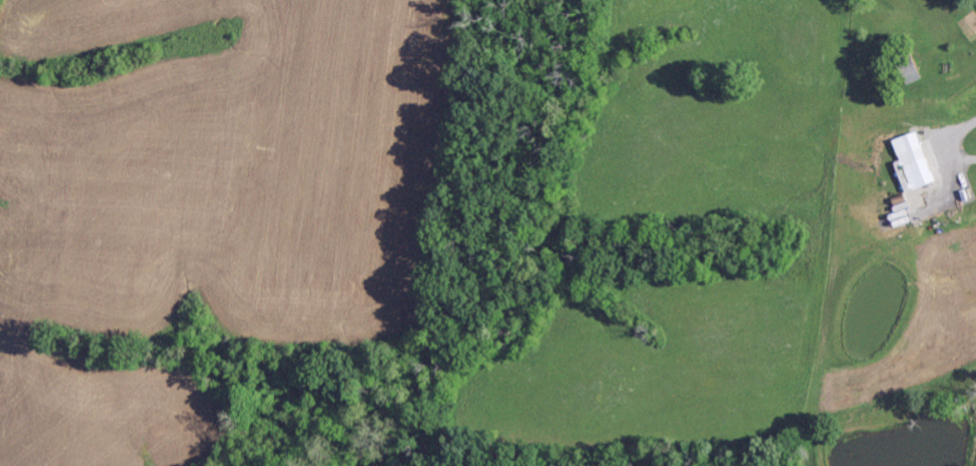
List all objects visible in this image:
building: (862, 33)
building: (907, 68)
road: (951, 144)
building: (914, 165)
building: (785, 457)

